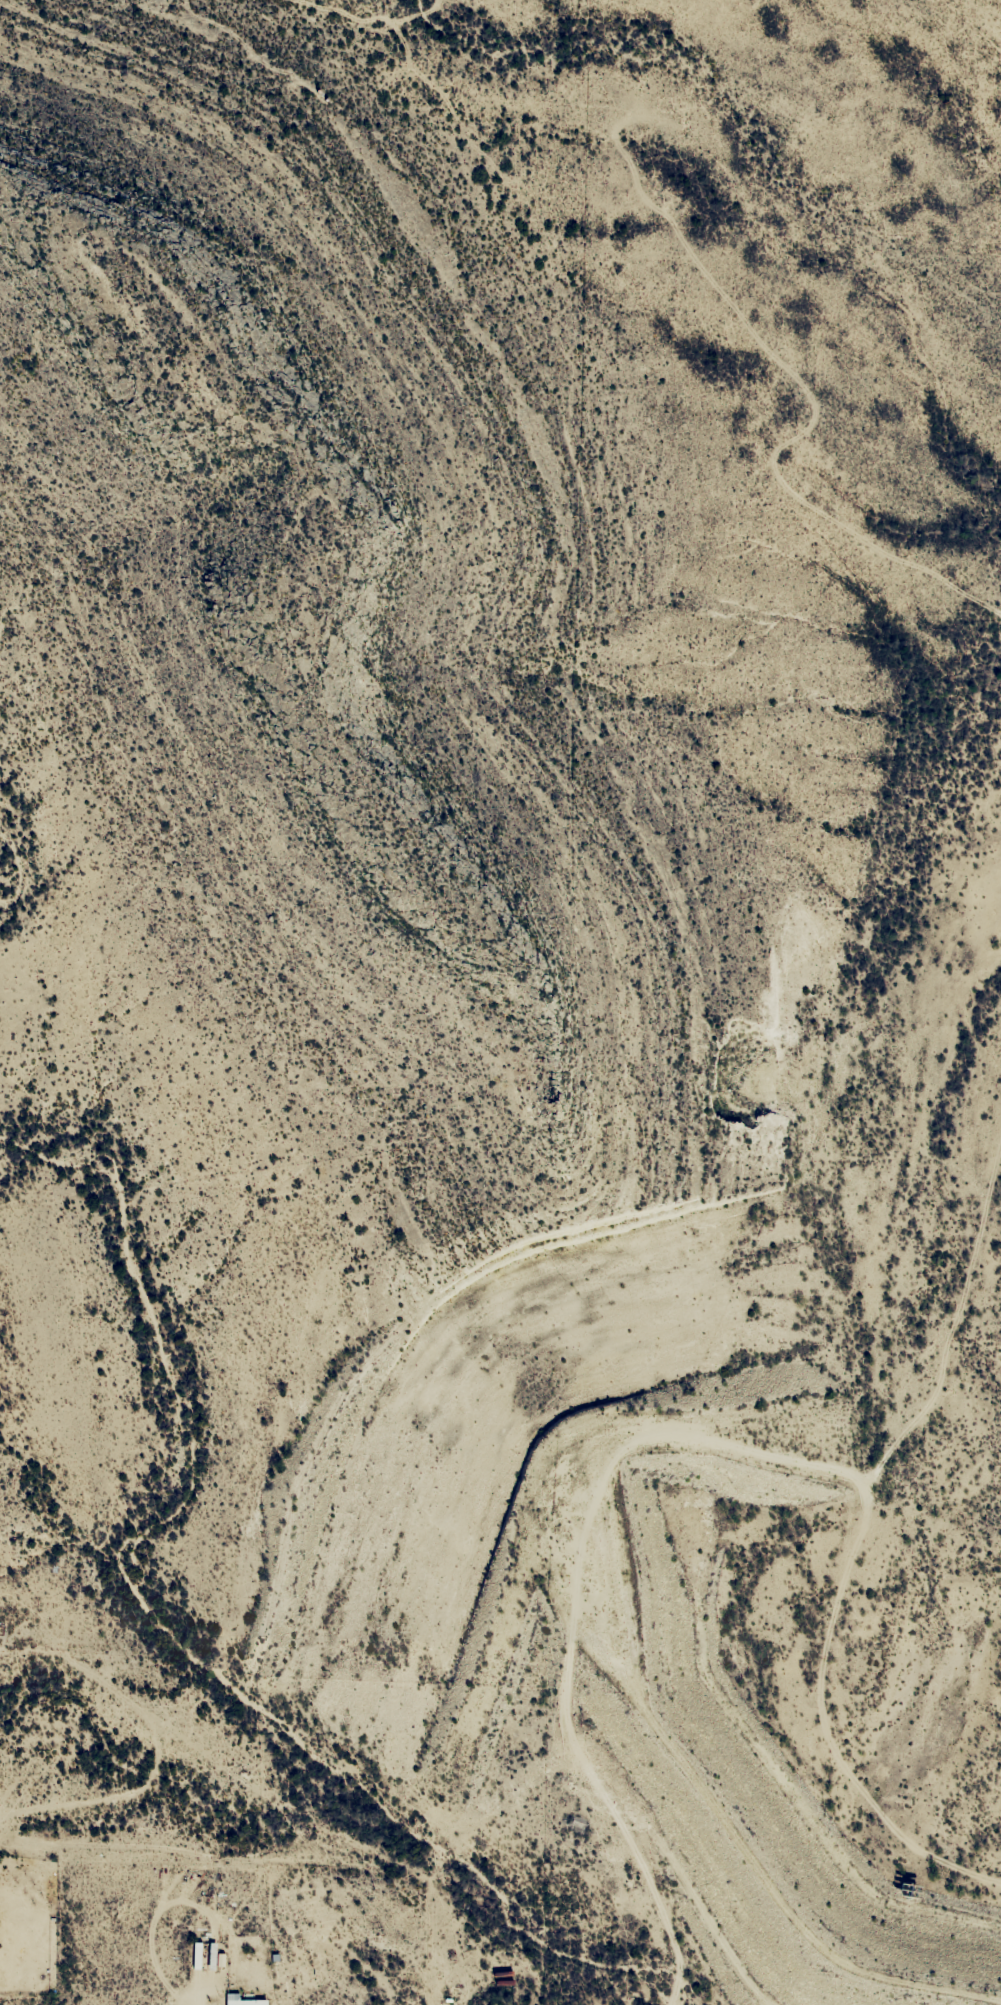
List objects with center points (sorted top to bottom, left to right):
road: (633, 1902)
building: (244, 2001)

